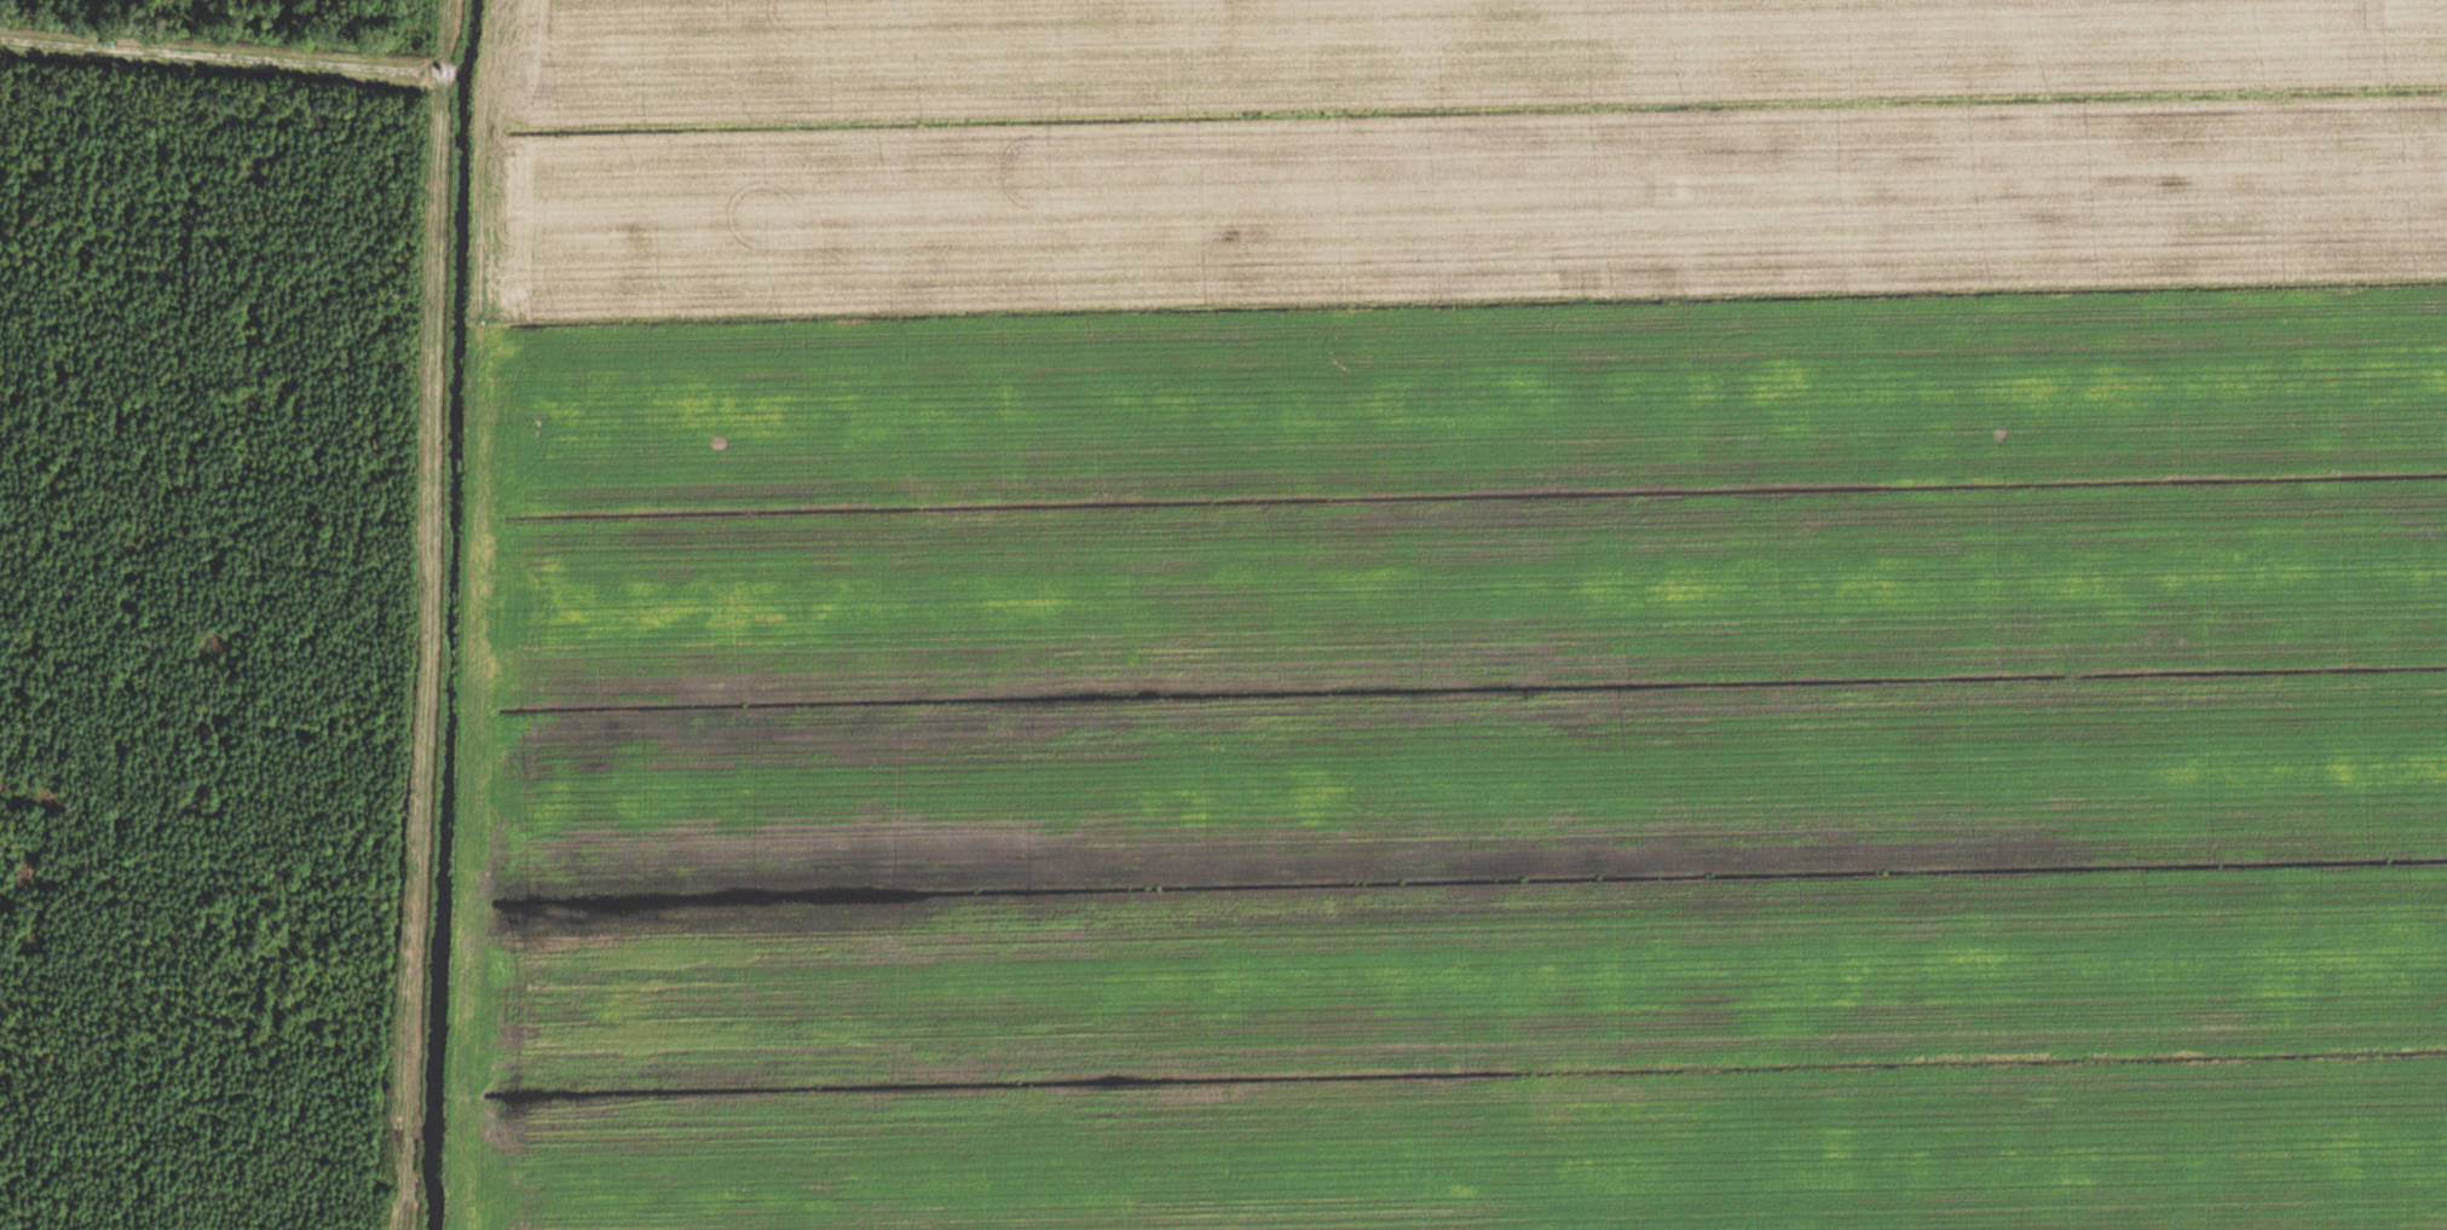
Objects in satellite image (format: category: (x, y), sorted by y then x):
road: (1223, 139)

